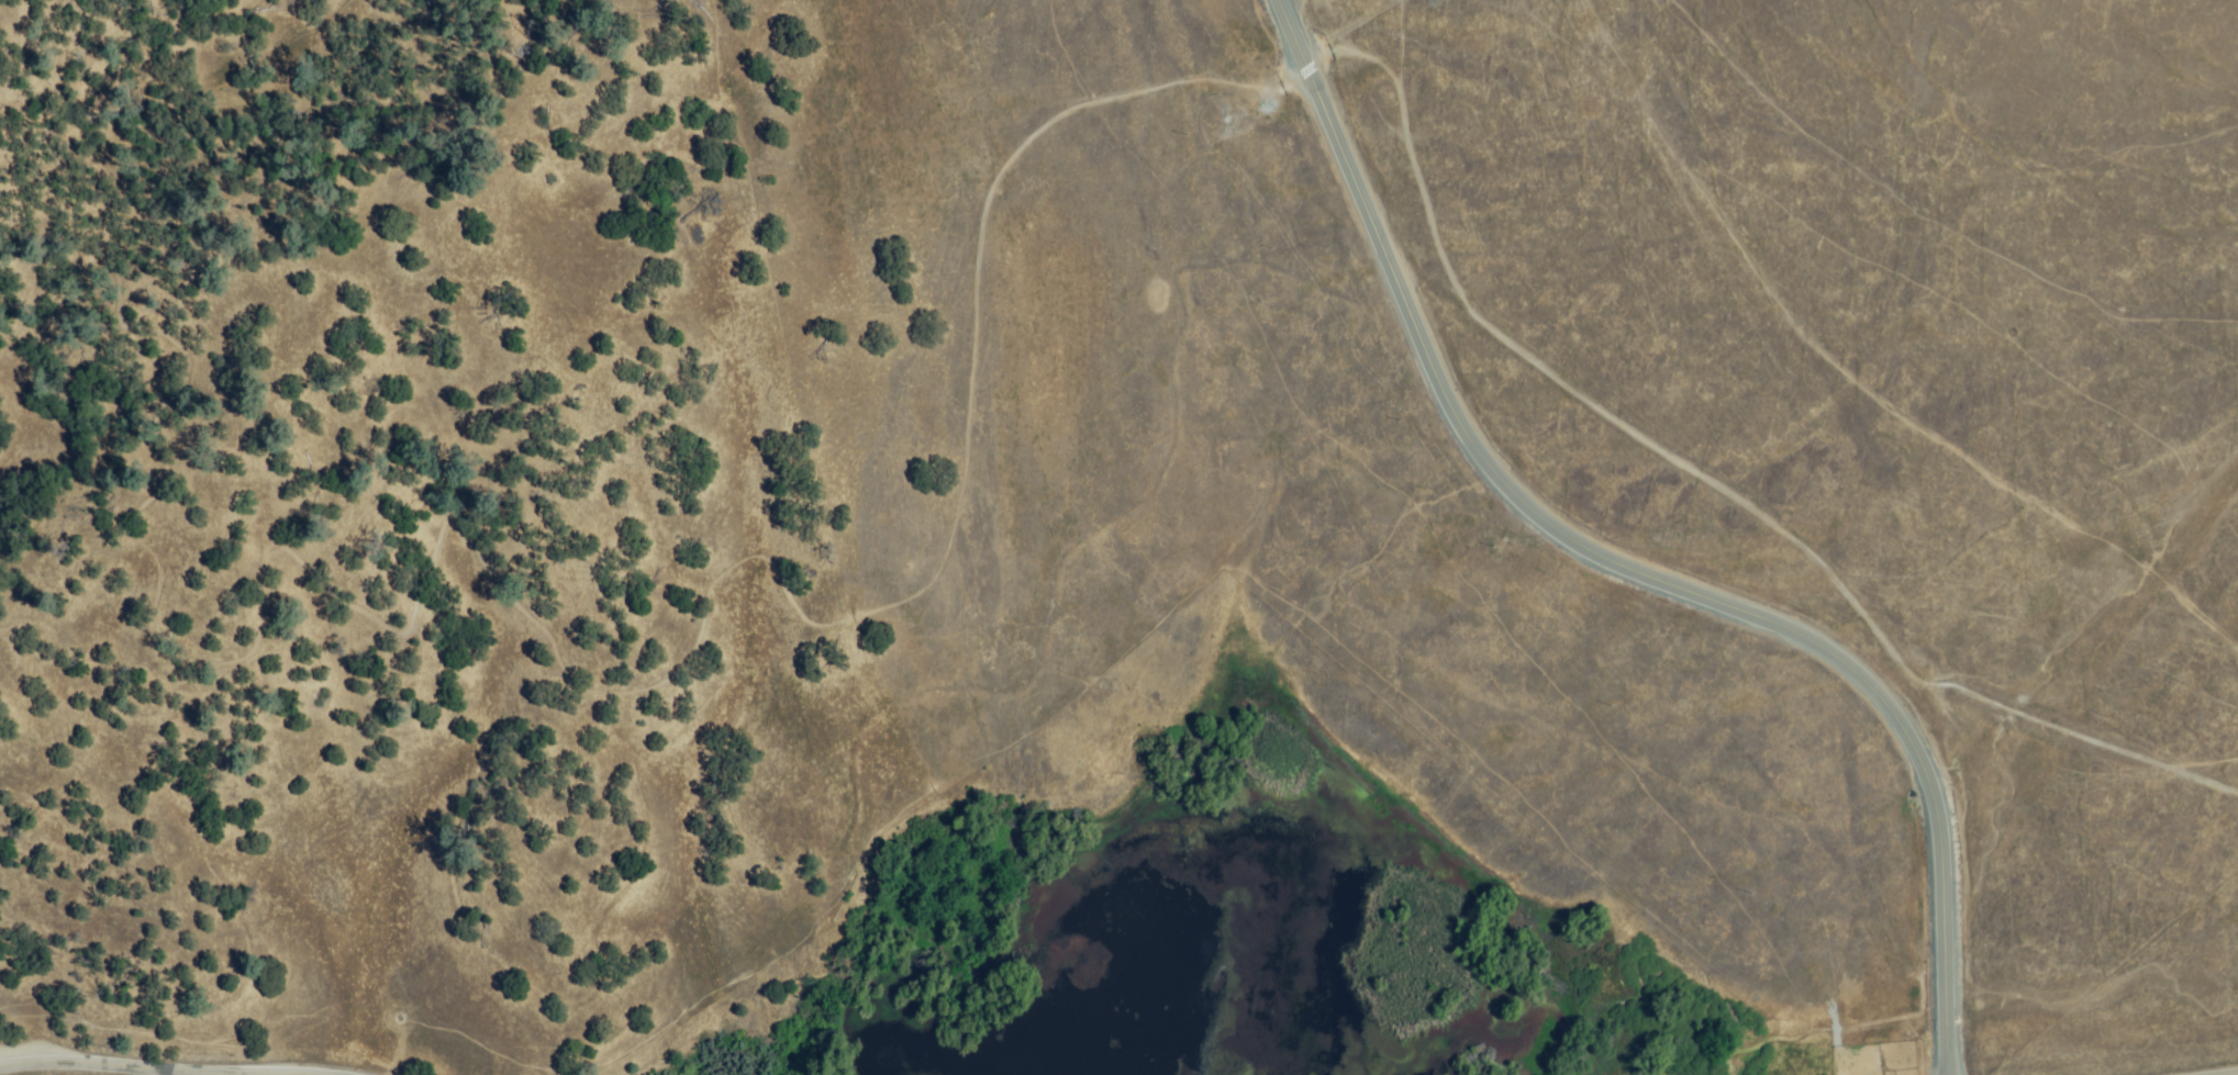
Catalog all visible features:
road: (1294, 35)
airport runway: (1667, 116)
airport: (1785, 289)
road: (1703, 480)
road: (1660, 582)
road: (542, 634)
road: (107, 1065)

